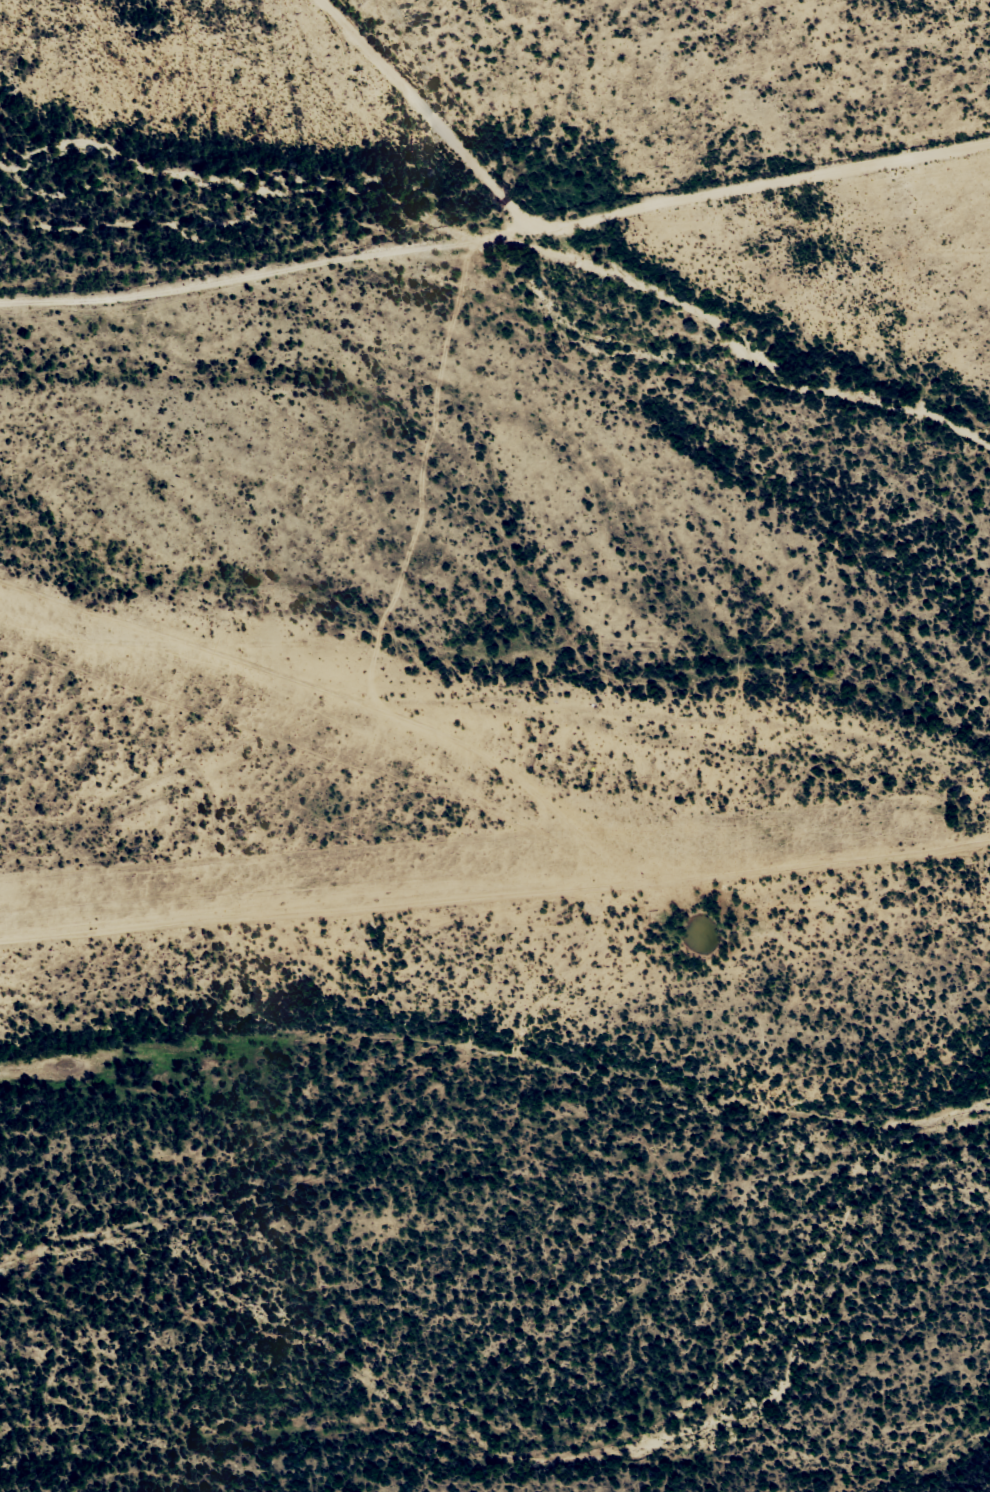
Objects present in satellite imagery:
road: (598, 229)
airport runway: (326, 738)
airport runway: (459, 874)
road: (494, 909)

